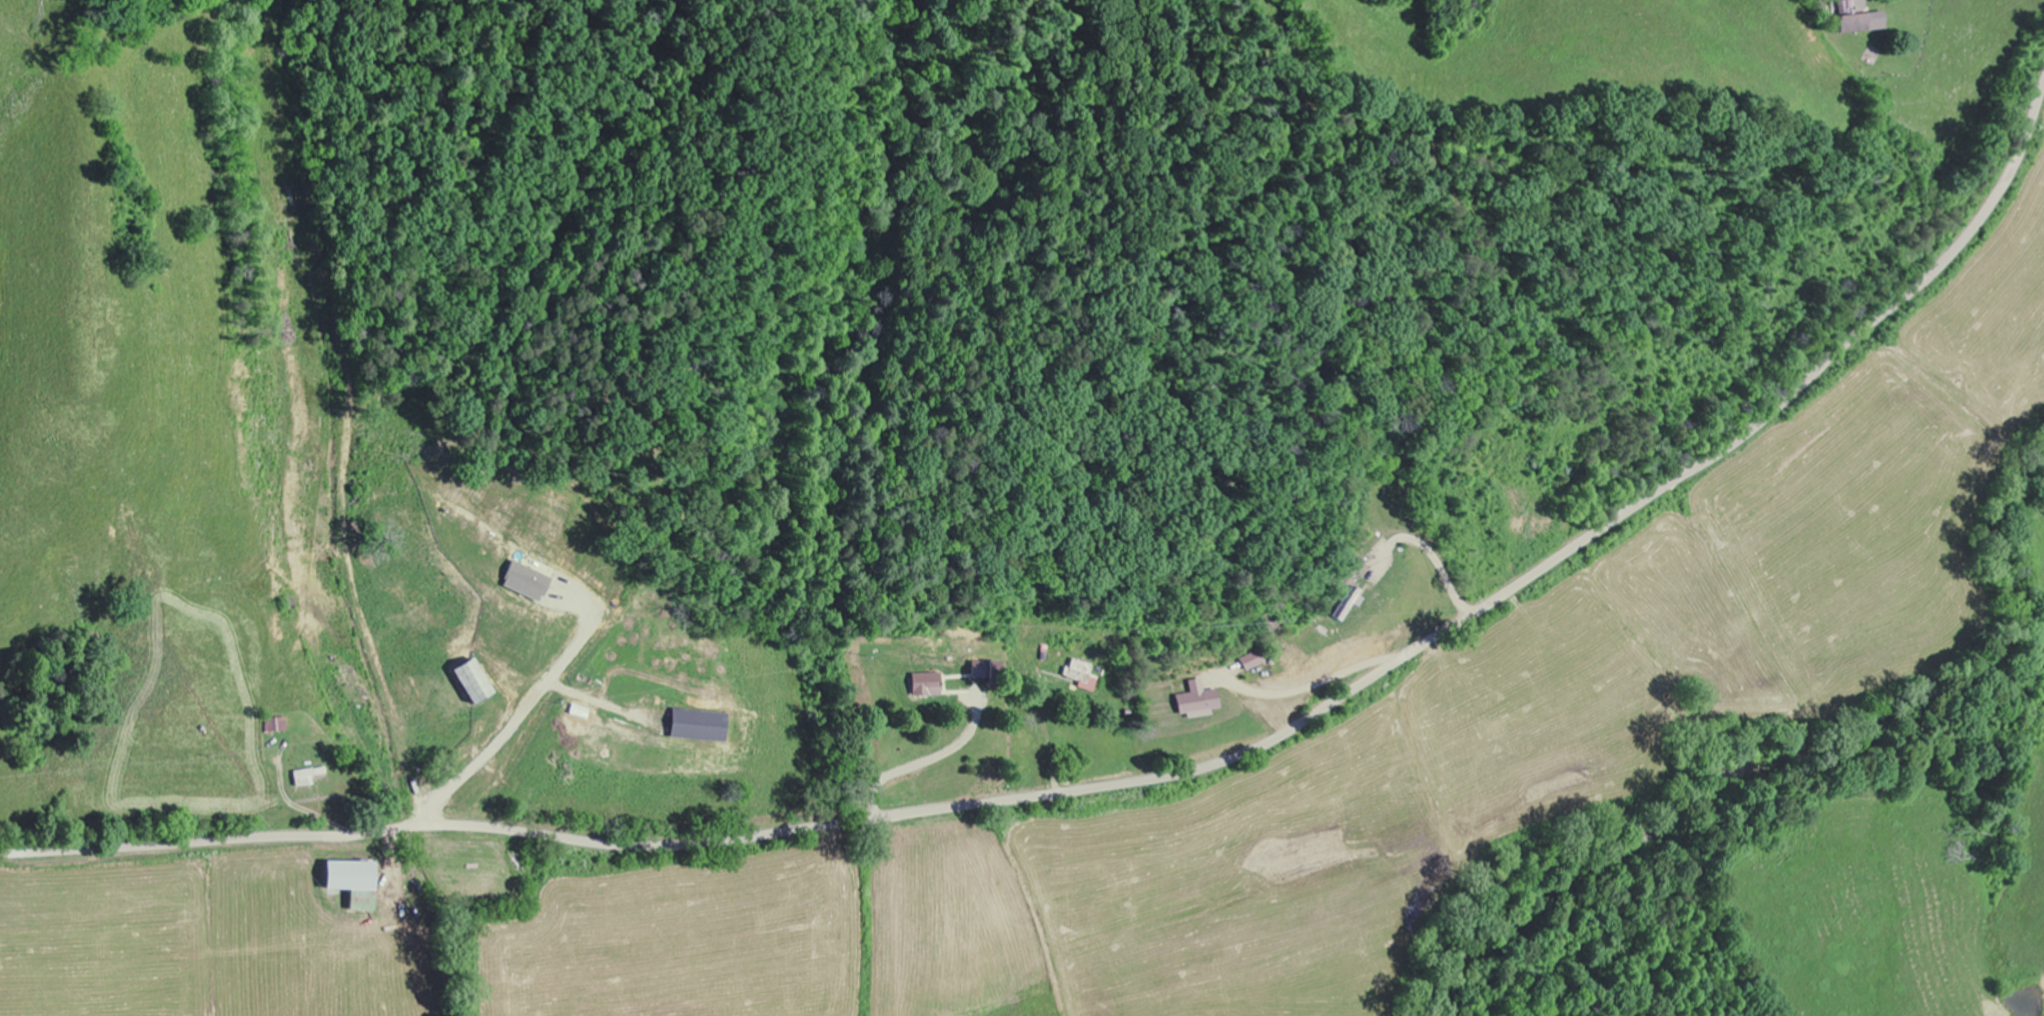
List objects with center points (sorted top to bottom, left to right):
building: (1853, 18)
building: (525, 583)
building: (1250, 662)
building: (979, 670)
building: (1082, 677)
building: (470, 684)
building: (927, 686)
building: (1196, 703)
building: (273, 727)
building: (695, 727)
building: (304, 778)
road: (1152, 778)
building: (345, 877)

